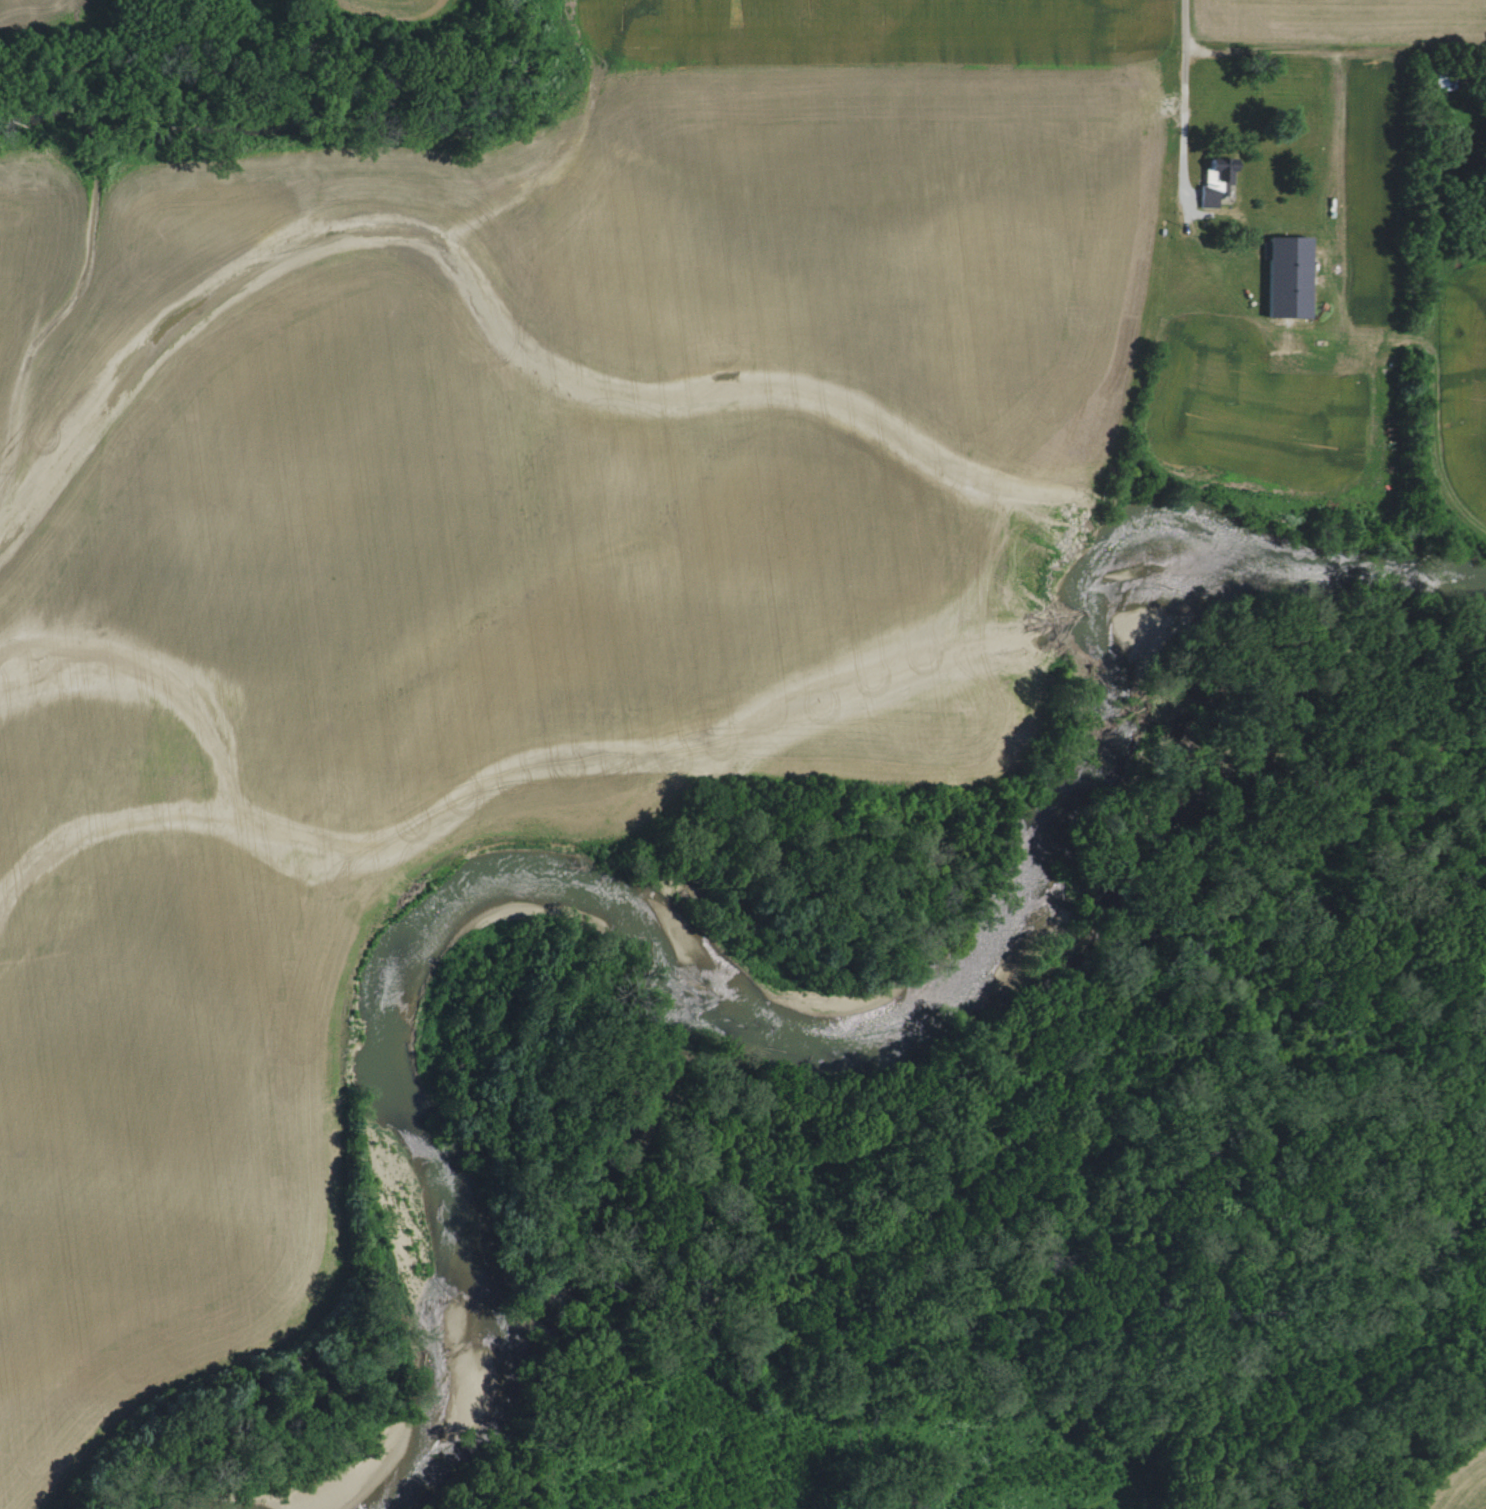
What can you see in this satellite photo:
road: (1332, 40)
road: (1185, 44)
road: (1181, 148)
building: (1213, 181)
building: (1282, 278)
river: (763, 992)

